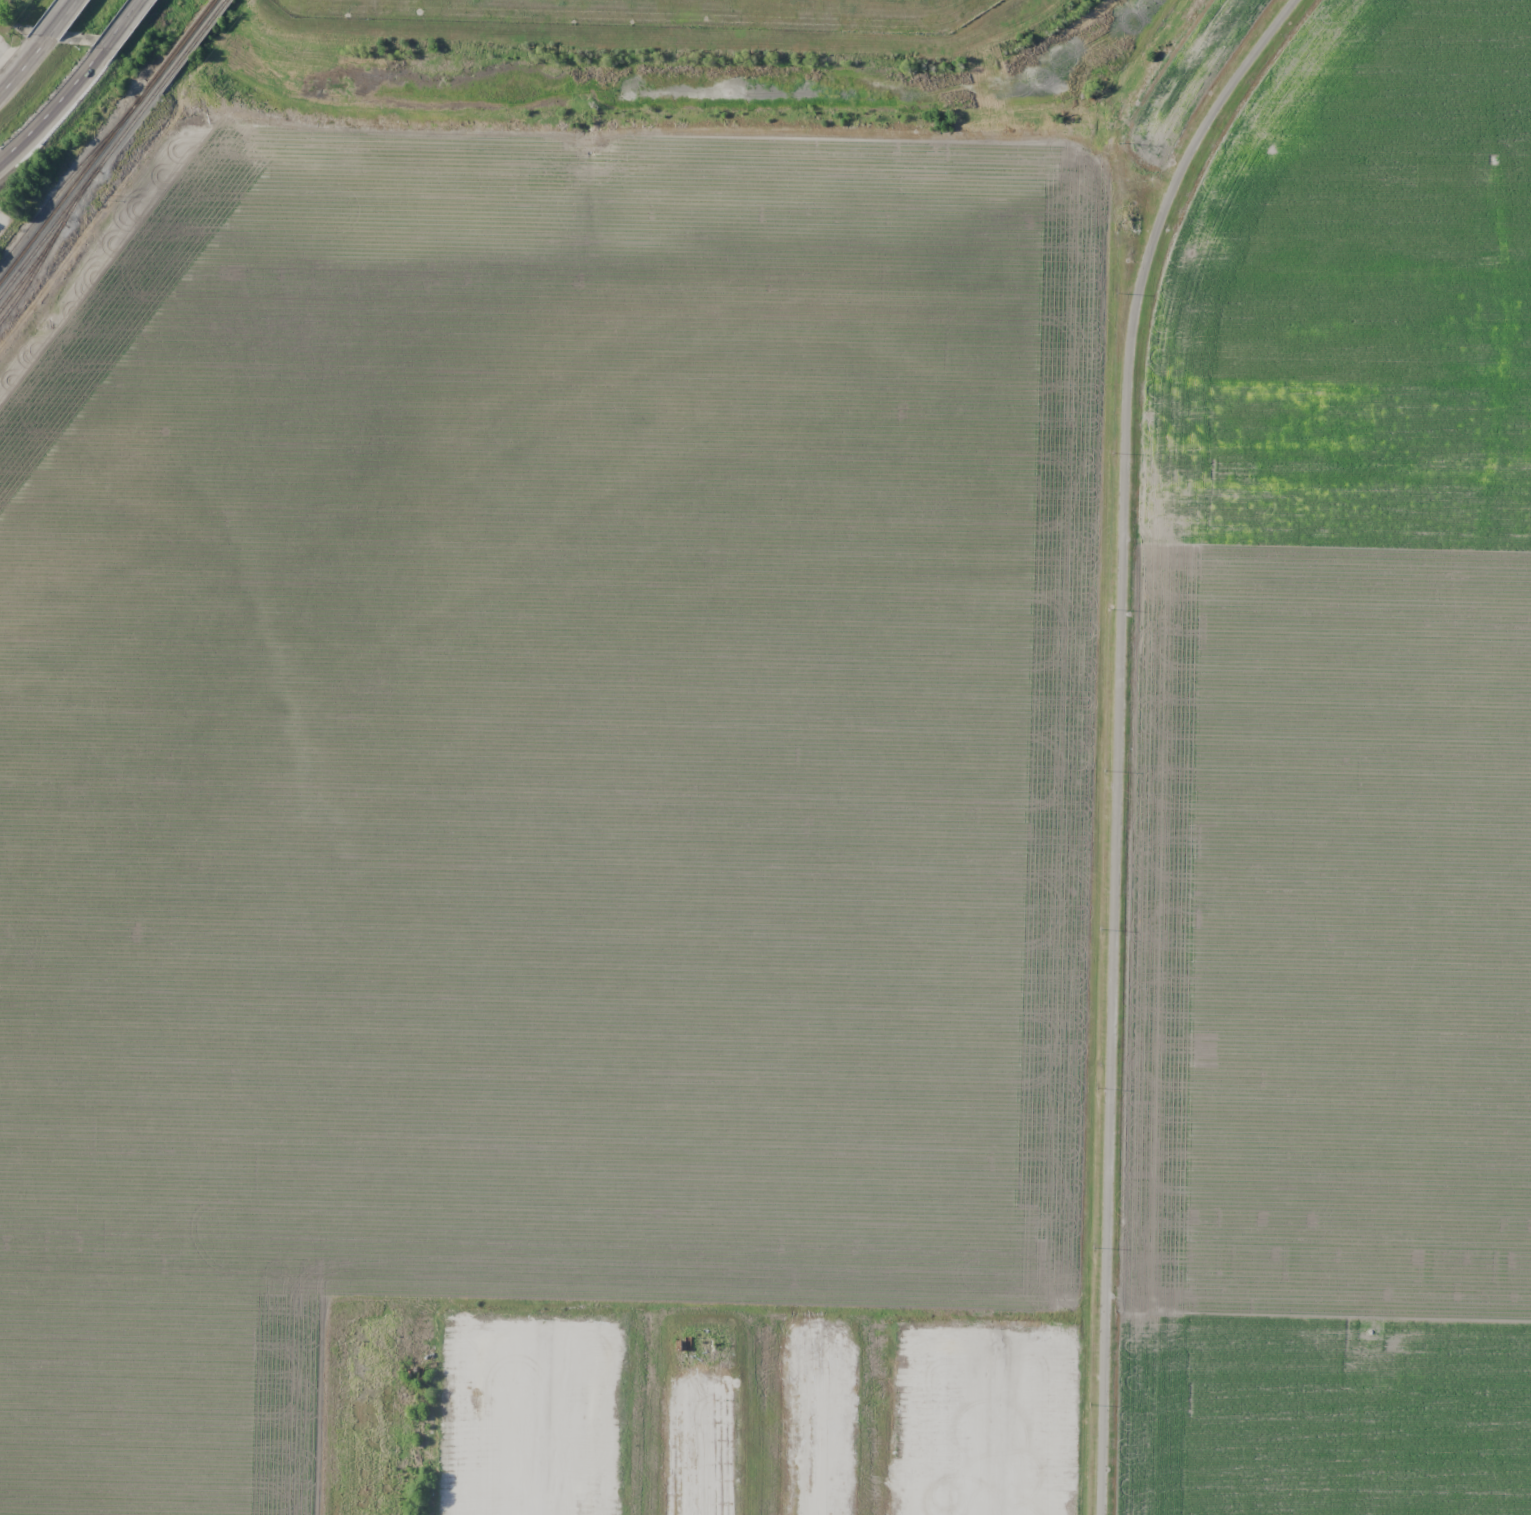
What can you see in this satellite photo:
road: (42, 47)
road: (109, 51)
road: (39, 137)
railway: (107, 139)
railway: (112, 147)
railway: (46, 245)
railway: (30, 278)
road: (1121, 733)
crop: (532, 756)

